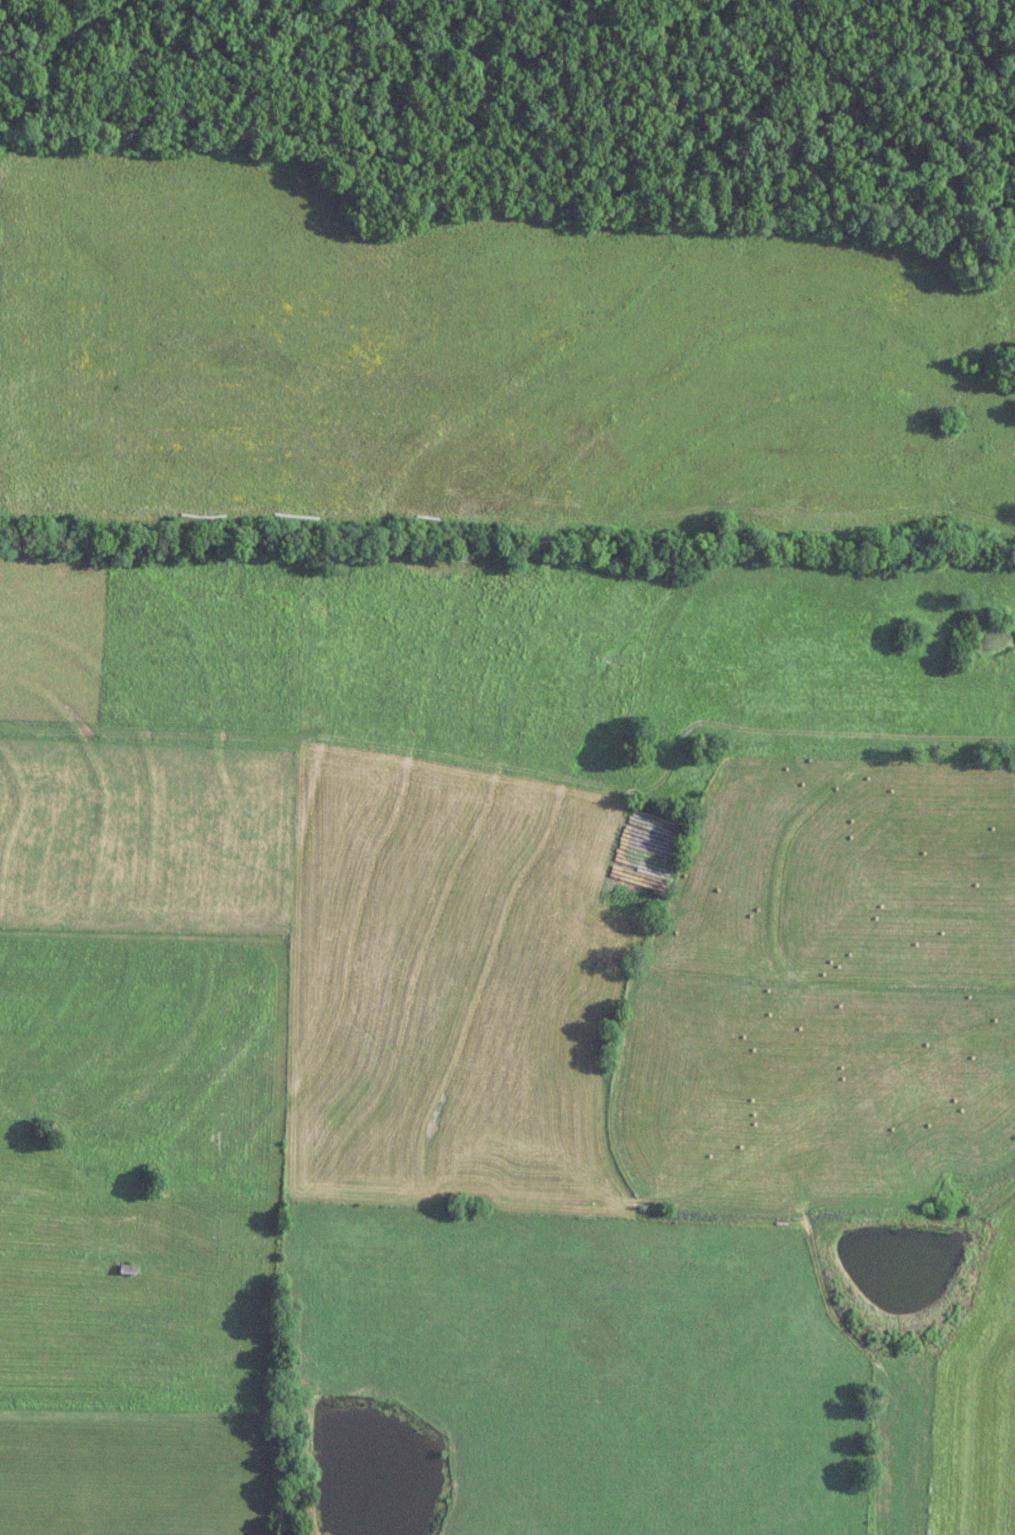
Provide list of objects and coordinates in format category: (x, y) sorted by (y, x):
building: (129, 1269)

